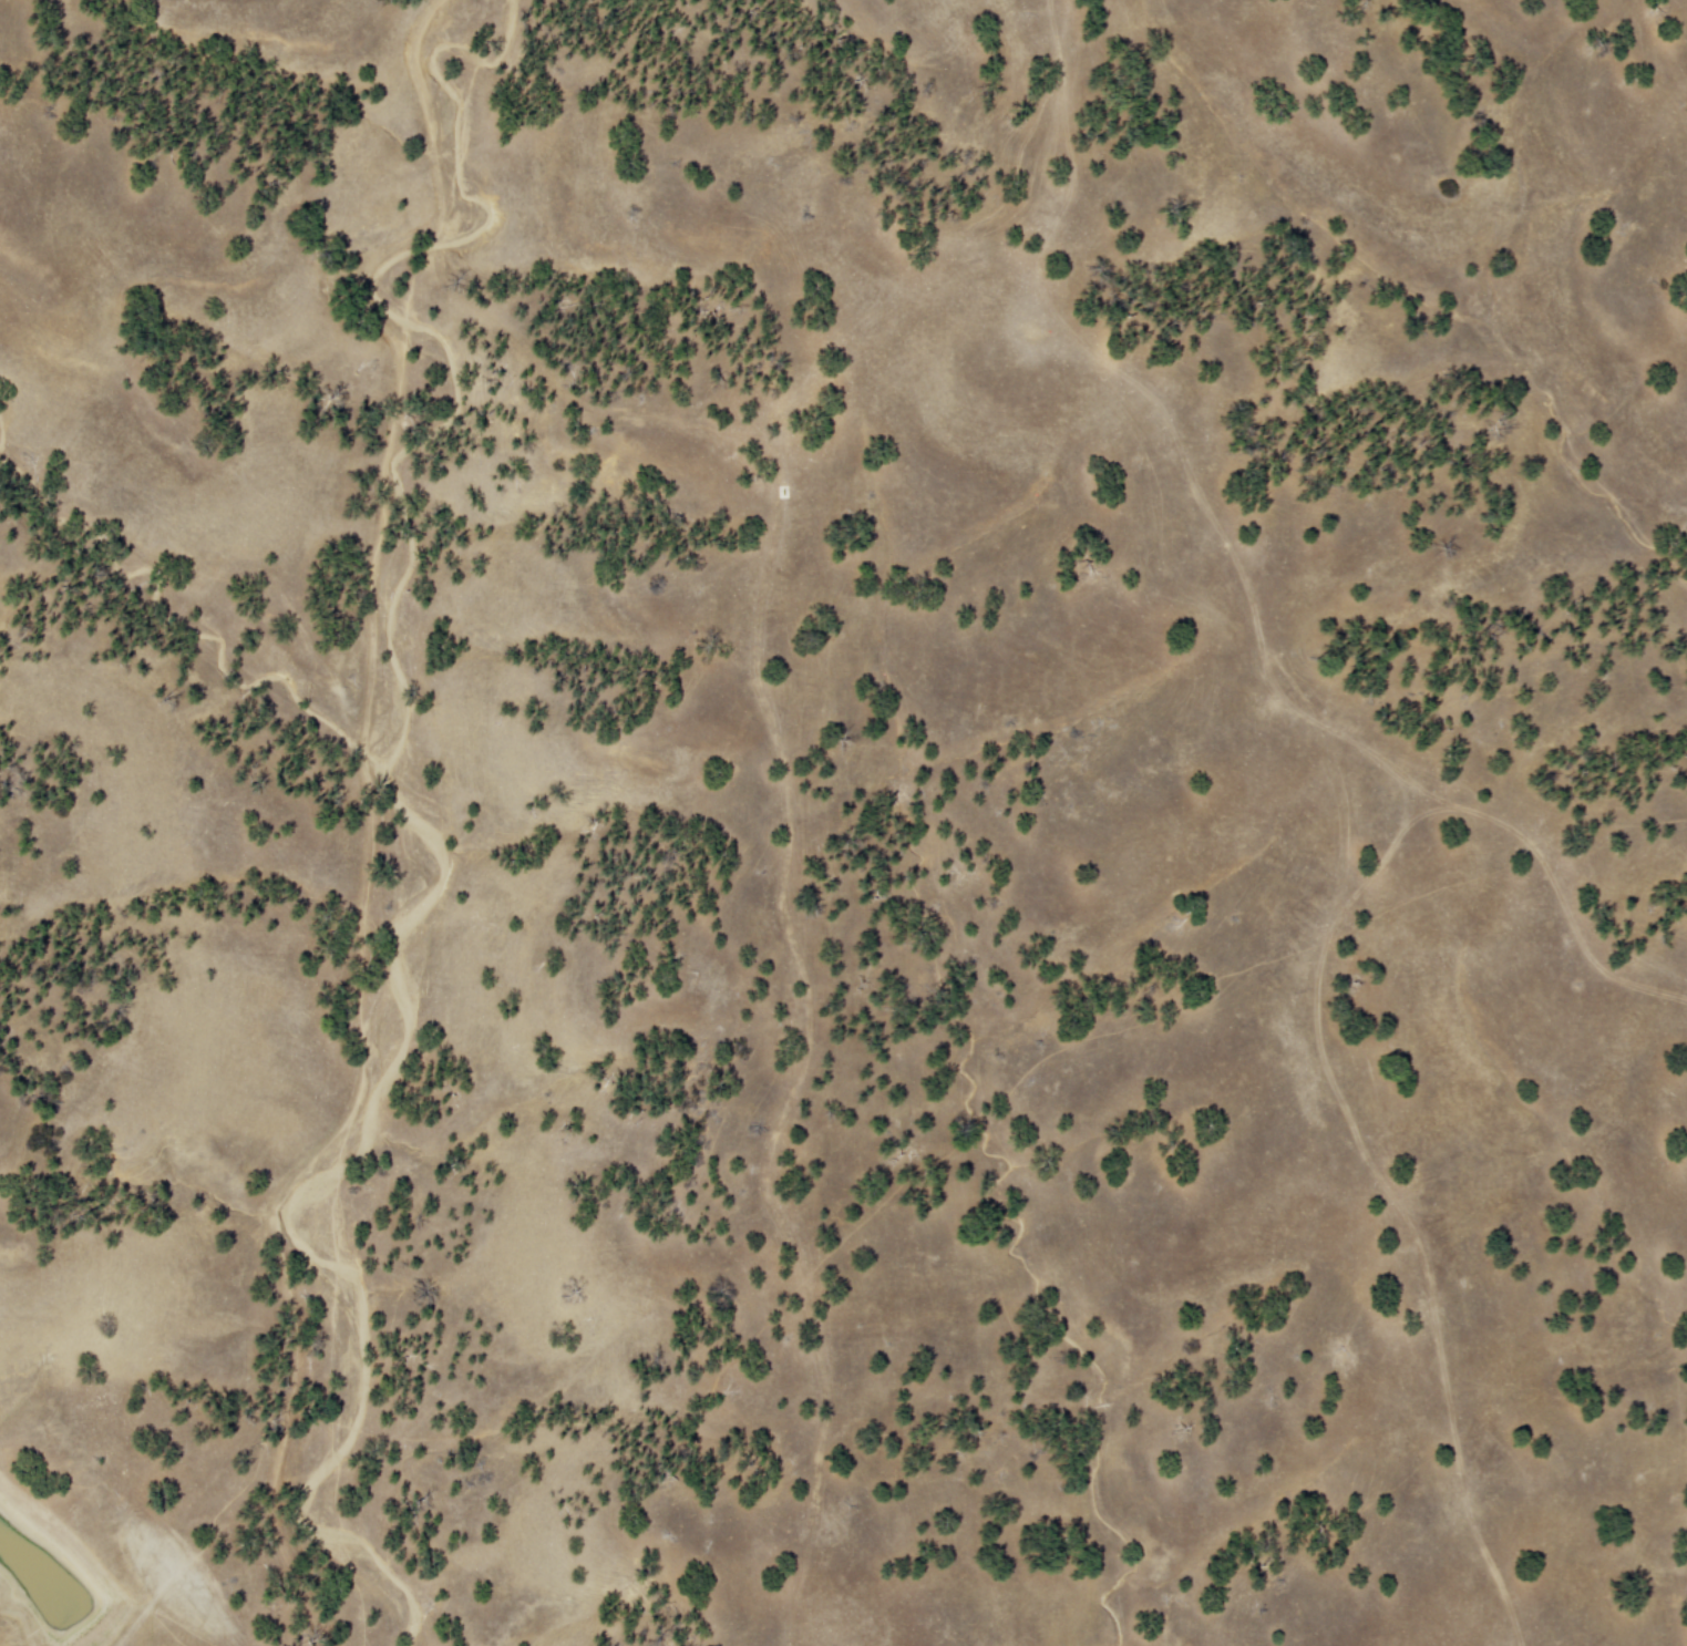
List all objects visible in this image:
road: (1151, 390)
road: (1423, 788)
road: (1398, 794)
road: (1430, 806)
road: (1566, 916)
road: (1408, 1222)
dam: (113, 1625)

